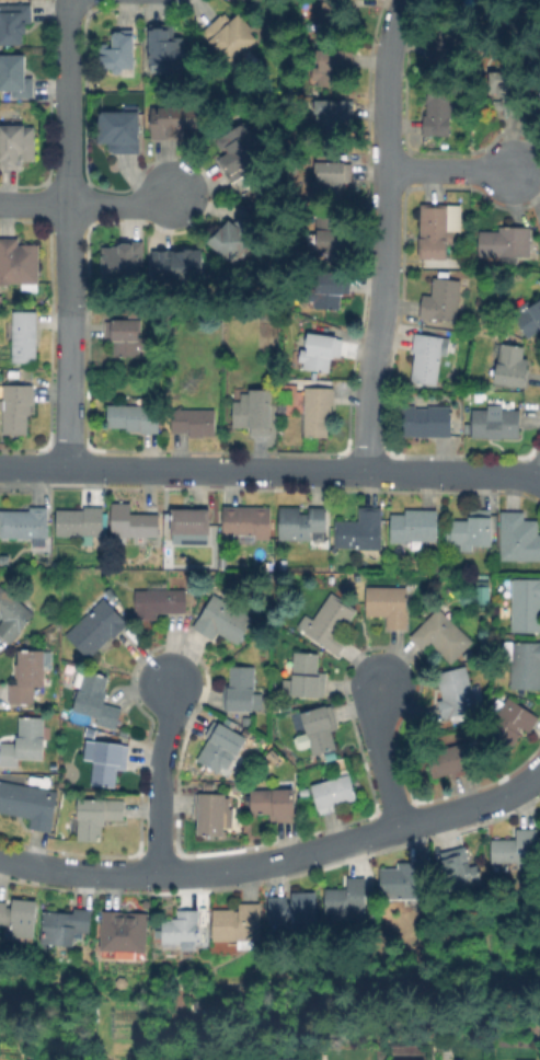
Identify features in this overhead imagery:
building: (308, 4)
building: (531, 4)
building: (333, 16)
building: (14, 23)
building: (231, 38)
building: (539, 39)
building: (443, 46)
building: (119, 51)
building: (162, 54)
building: (332, 67)
building: (15, 77)
building: (508, 92)
building: (539, 108)
building: (437, 110)
building: (329, 115)
building: (176, 122)
building: (120, 130)
building: (18, 145)
building: (241, 152)
road: (451, 168)
building: (328, 181)
road: (33, 205)
road: (124, 205)
road: (67, 232)
road: (383, 232)
building: (435, 232)
building: (332, 233)
building: (234, 238)
building: (506, 242)
building: (124, 263)
building: (19, 265)
building: (179, 268)
building: (331, 289)
building: (443, 300)
building: (529, 318)
building: (437, 331)
building: (25, 336)
building: (126, 336)
building: (321, 350)
building: (427, 358)
building: (512, 365)
building: (13, 373)
building: (16, 407)
building: (318, 411)
building: (458, 415)
building: (253, 416)
building: (135, 418)
building: (195, 422)
building: (426, 422)
building: (496, 424)
road: (268, 466)
road: (539, 473)
road: (539, 476)
building: (191, 521)
building: (24, 522)
building: (81, 522)
building: (133, 522)
building: (248, 522)
building: (301, 523)
building: (414, 526)
building: (475, 529)
building: (360, 531)
building: (519, 538)
building: (3, 558)
building: (222, 563)
building: (283, 564)
building: (269, 576)
rooftop solar panel: (152, 585)
building: (480, 596)
building: (159, 602)
building: (388, 604)
building: (526, 604)
building: (12, 615)
building: (223, 620)
building: (330, 624)
building: (97, 630)
building: (443, 636)
building: (526, 666)
building: (27, 676)
building: (307, 677)
building: (240, 689)
building: (457, 693)
building: (97, 700)
building: (248, 722)
building: (510, 725)
building: (321, 729)
building: (24, 741)
building: (221, 747)
road: (383, 753)
building: (450, 760)
building: (108, 763)
road: (159, 775)
building: (208, 784)
building: (335, 788)
building: (28, 804)
building: (274, 804)
road: (473, 804)
building: (210, 814)
building: (97, 817)
building: (517, 850)
road: (200, 869)
building: (458, 873)
building: (404, 882)
building: (347, 901)
building: (296, 911)
building: (20, 915)
building: (238, 923)
building: (66, 925)
building: (181, 931)
building: (125, 935)
building: (284, 1059)
building: (402, 1059)

